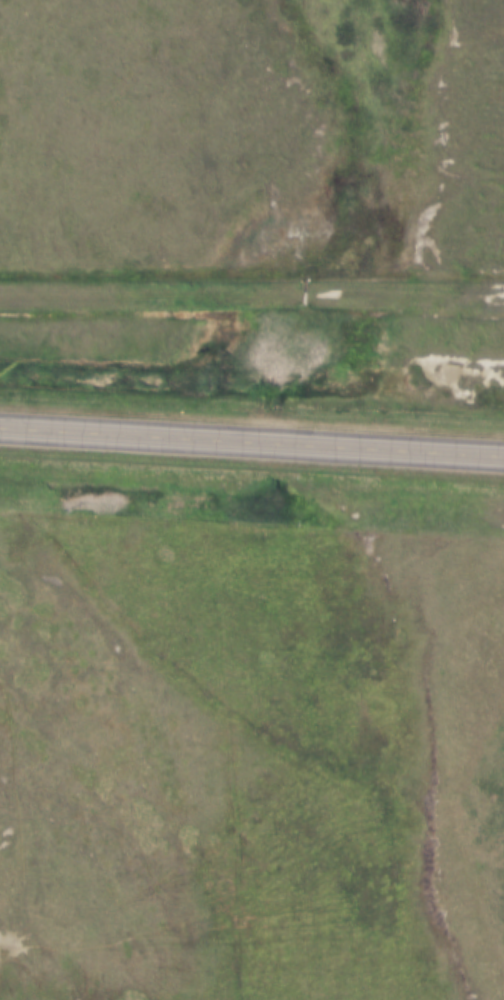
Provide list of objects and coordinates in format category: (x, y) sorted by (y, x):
road: (251, 436)

